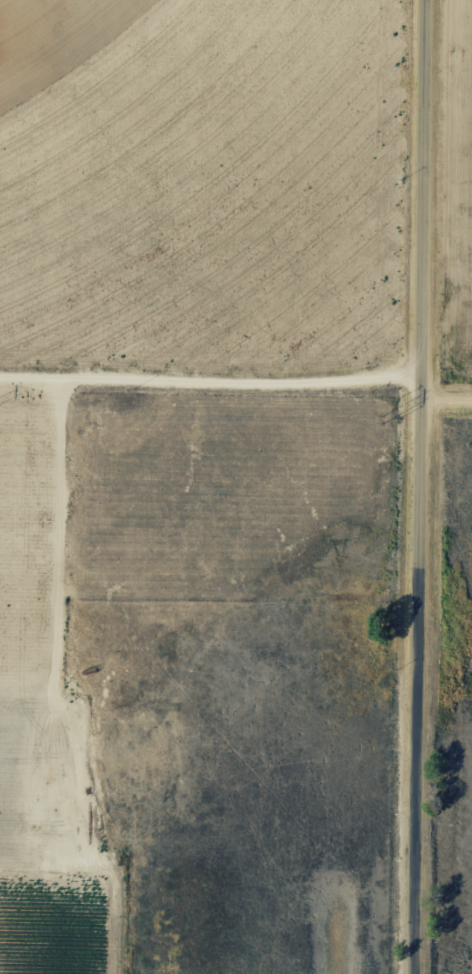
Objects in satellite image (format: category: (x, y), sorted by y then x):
road: (206, 412)
road: (442, 414)
road: (412, 486)

